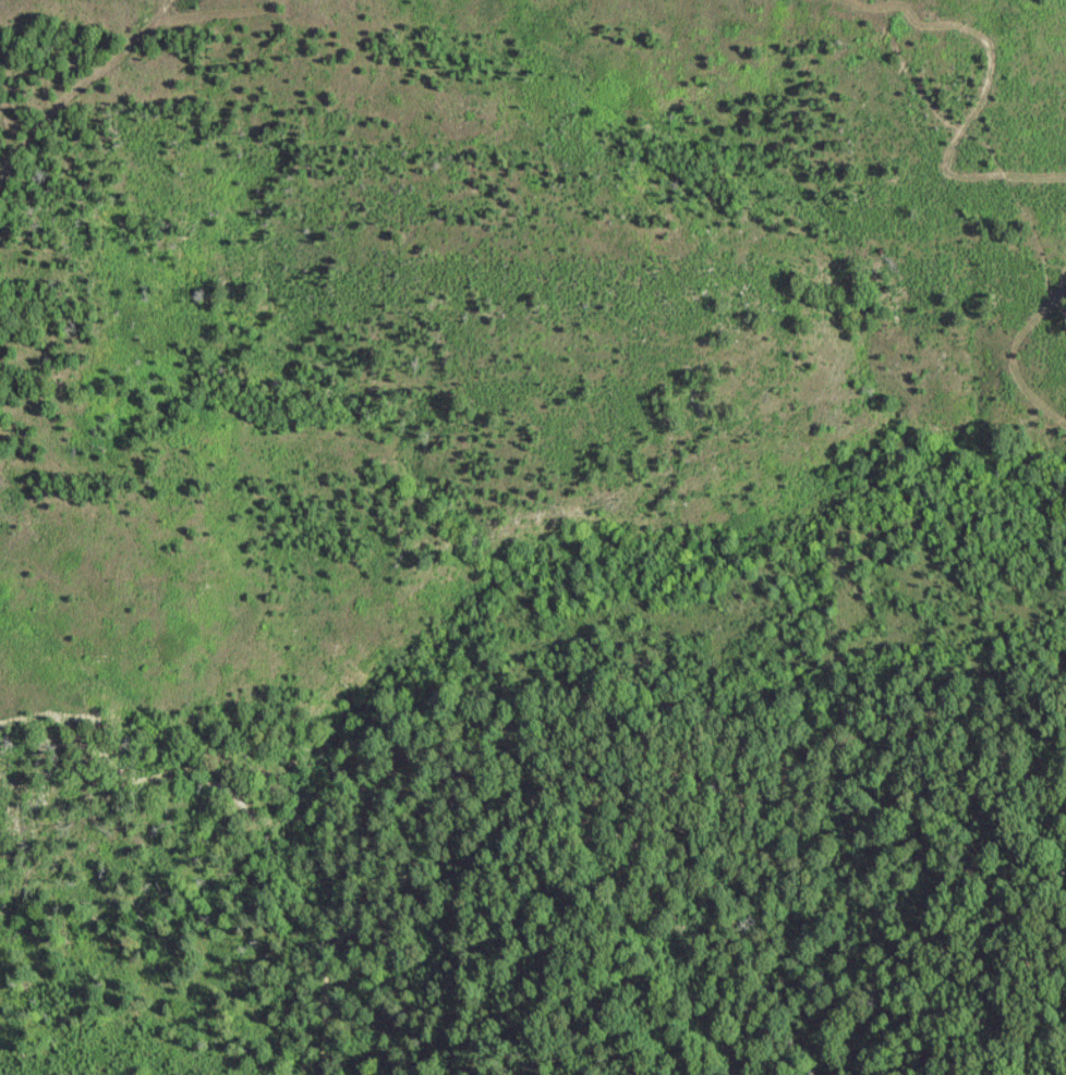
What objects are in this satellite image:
road: (83, 77)
road: (991, 152)

